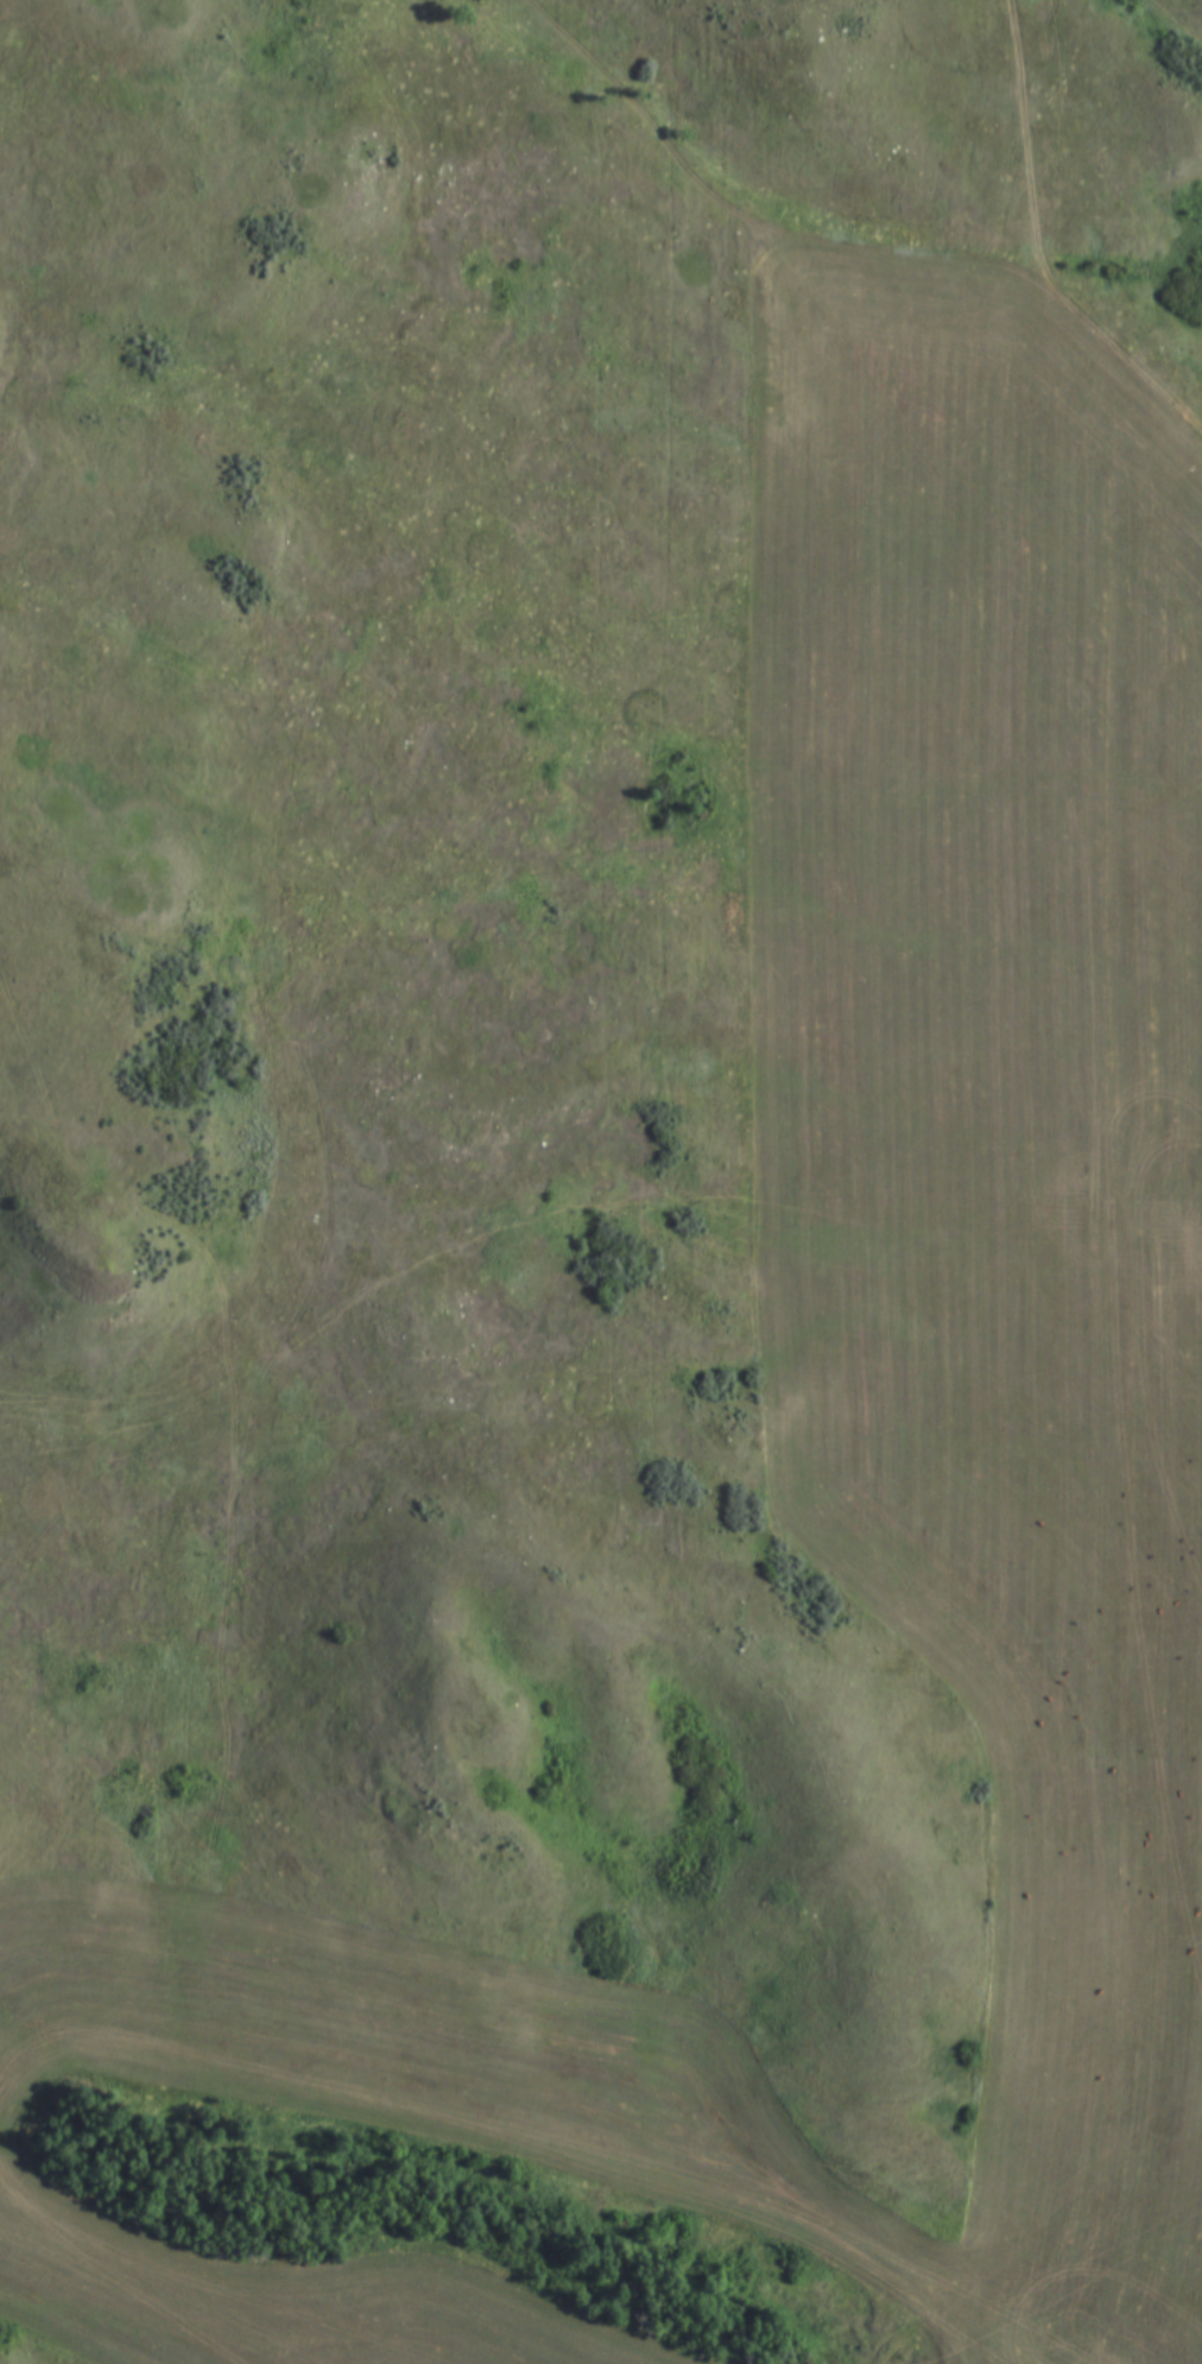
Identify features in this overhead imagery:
road: (1039, 266)

